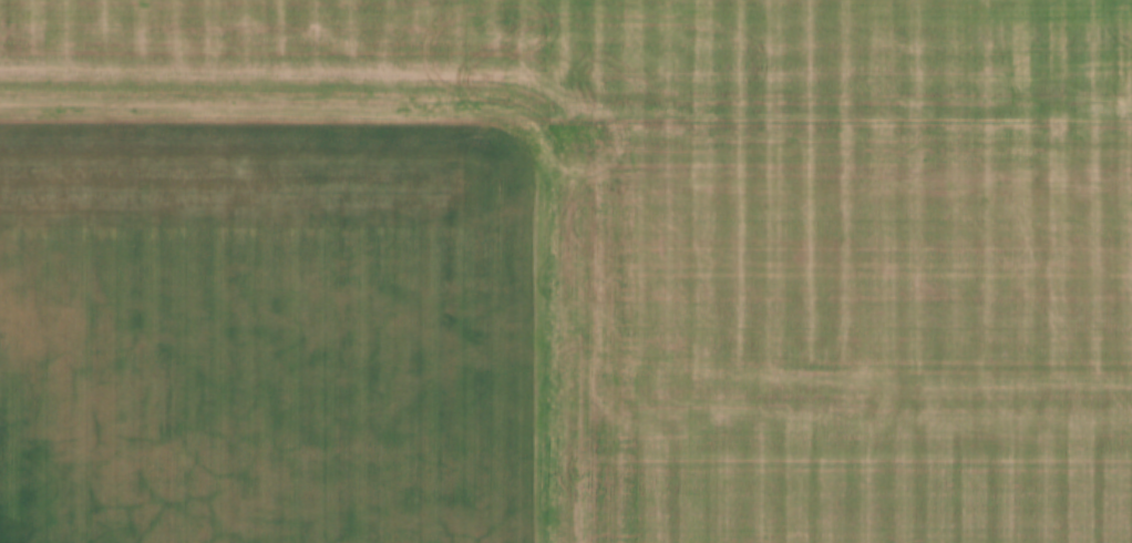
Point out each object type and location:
road: (566, 119)

